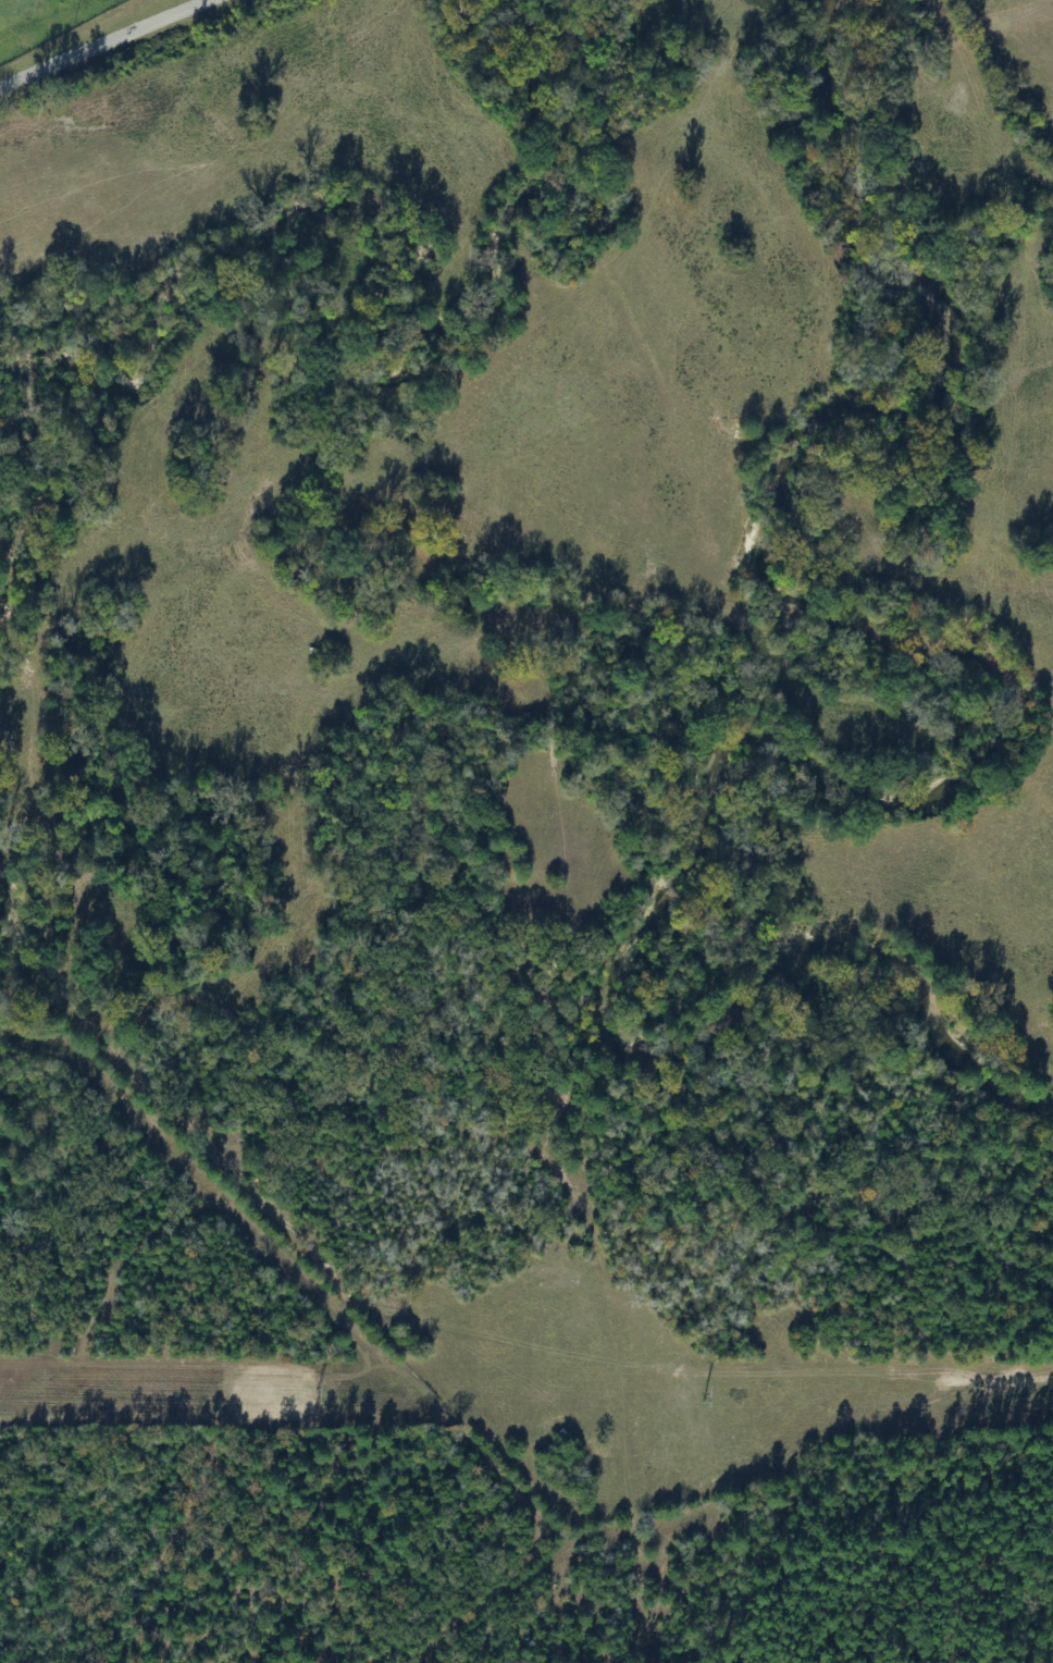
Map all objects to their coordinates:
road: (123, 50)
power tower: (1050, 1389)
power tower: (309, 1391)
power tower: (698, 1393)

